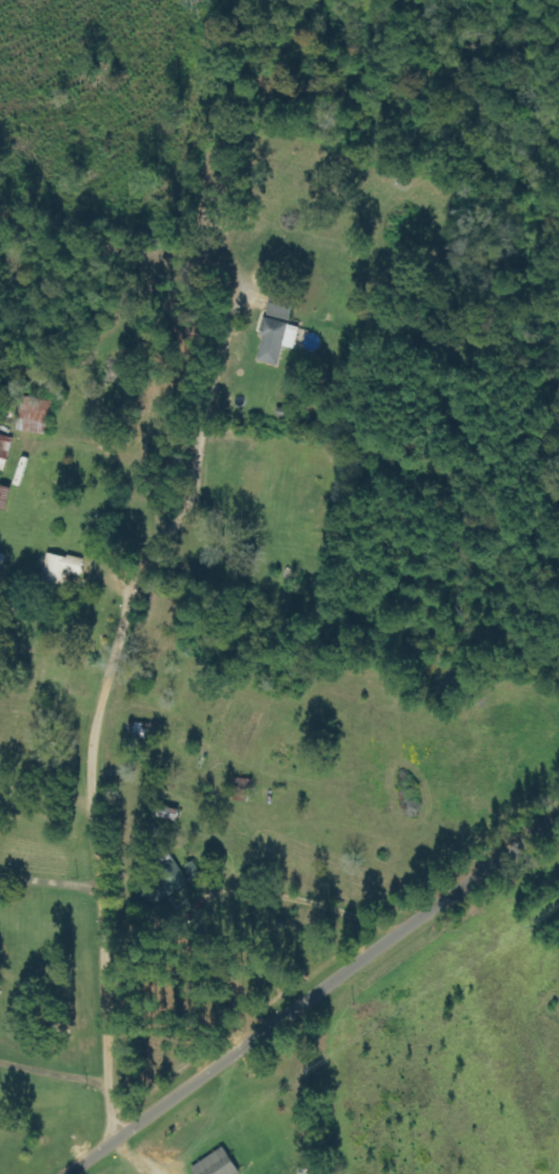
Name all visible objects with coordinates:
building: (281, 335)
building: (42, 410)
building: (64, 570)
road: (50, 747)
road: (104, 826)
road: (56, 952)
road: (304, 995)
building: (221, 1164)

